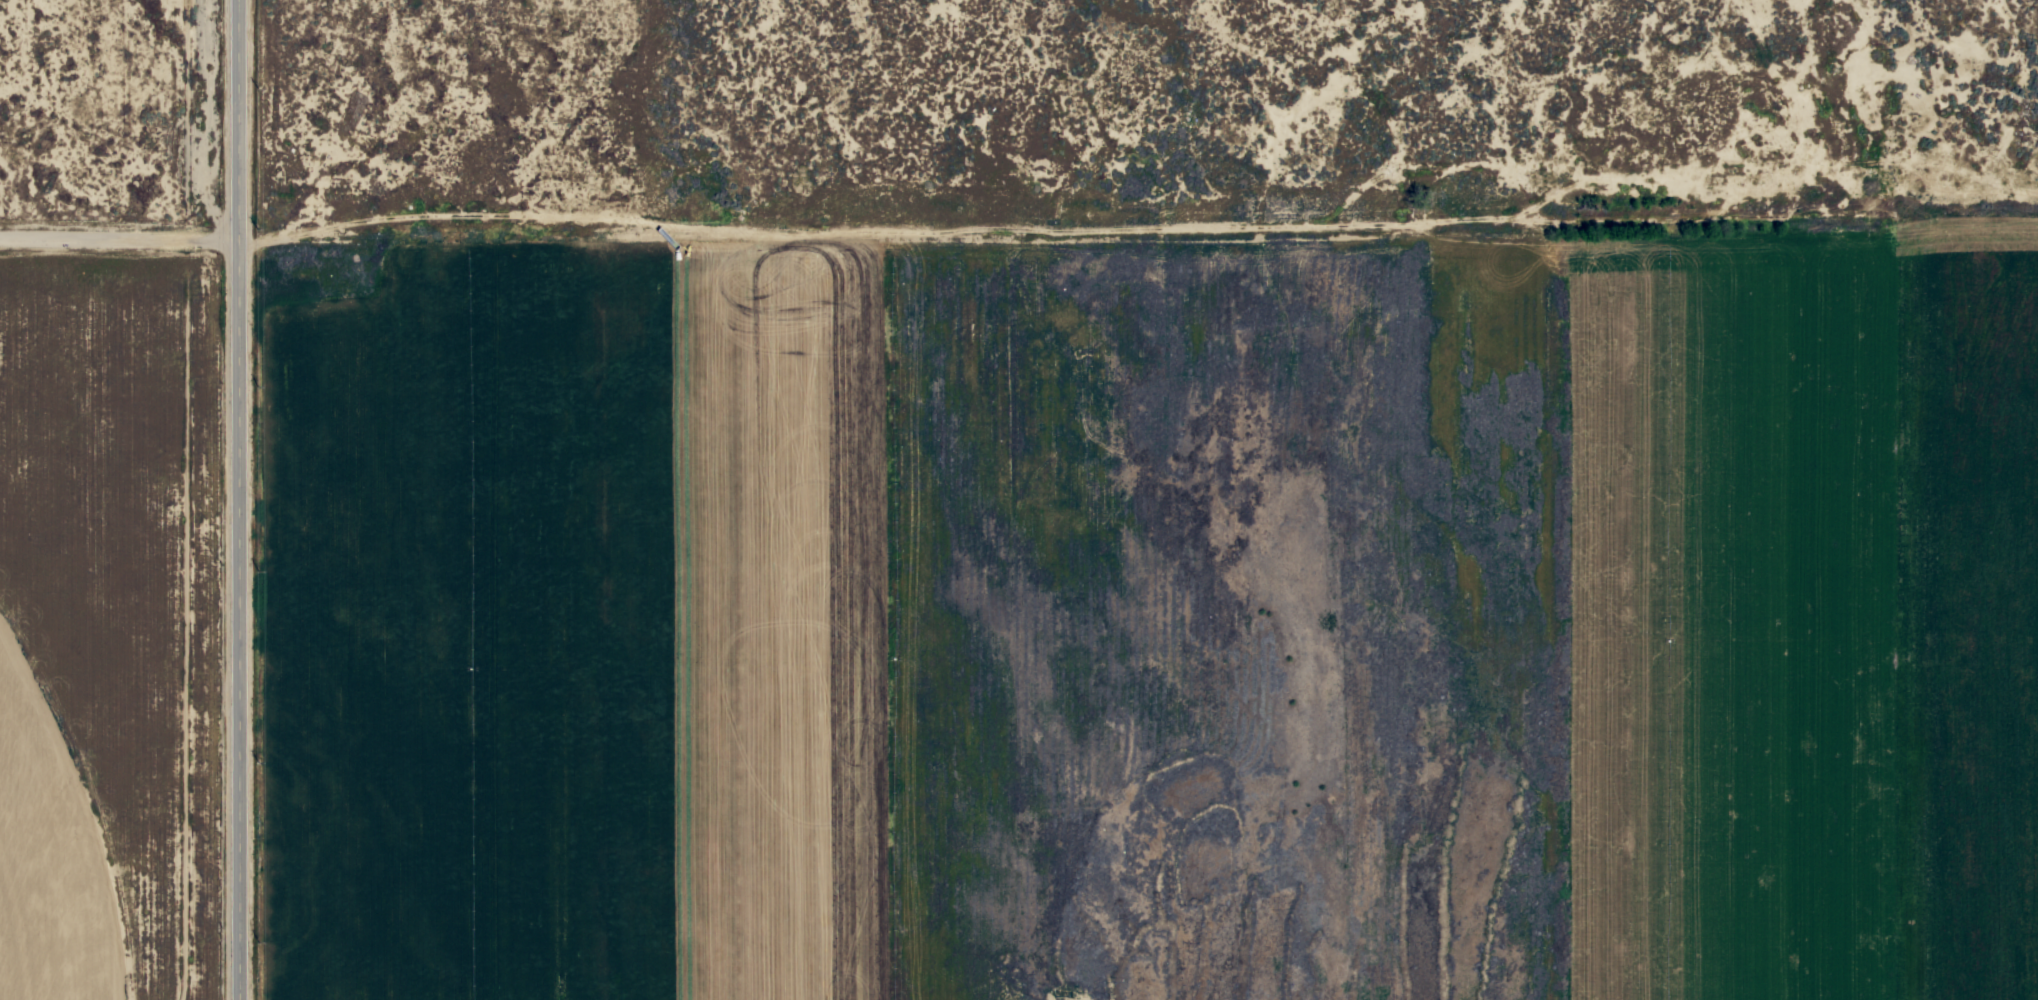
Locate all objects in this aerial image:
road: (104, 214)
road: (997, 217)
road: (218, 500)
crop: (566, 610)
crop: (1794, 616)
crop: (47, 863)

